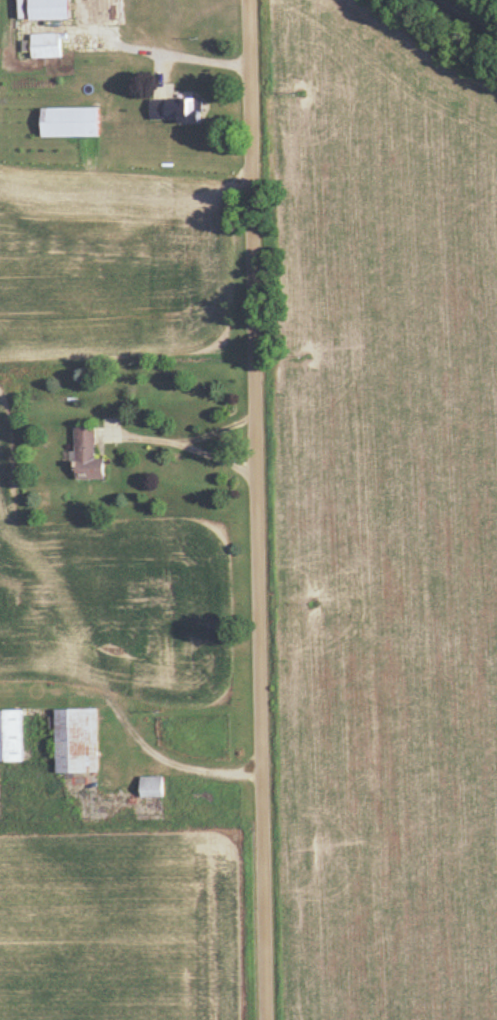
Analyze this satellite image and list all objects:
building: (54, 10)
railway: (475, 13)
building: (48, 46)
road: (154, 50)
building: (180, 111)
building: (73, 123)
road: (212, 410)
road: (191, 438)
building: (90, 457)
road: (259, 510)
building: (12, 737)
building: (79, 741)
road: (159, 757)
building: (155, 787)

